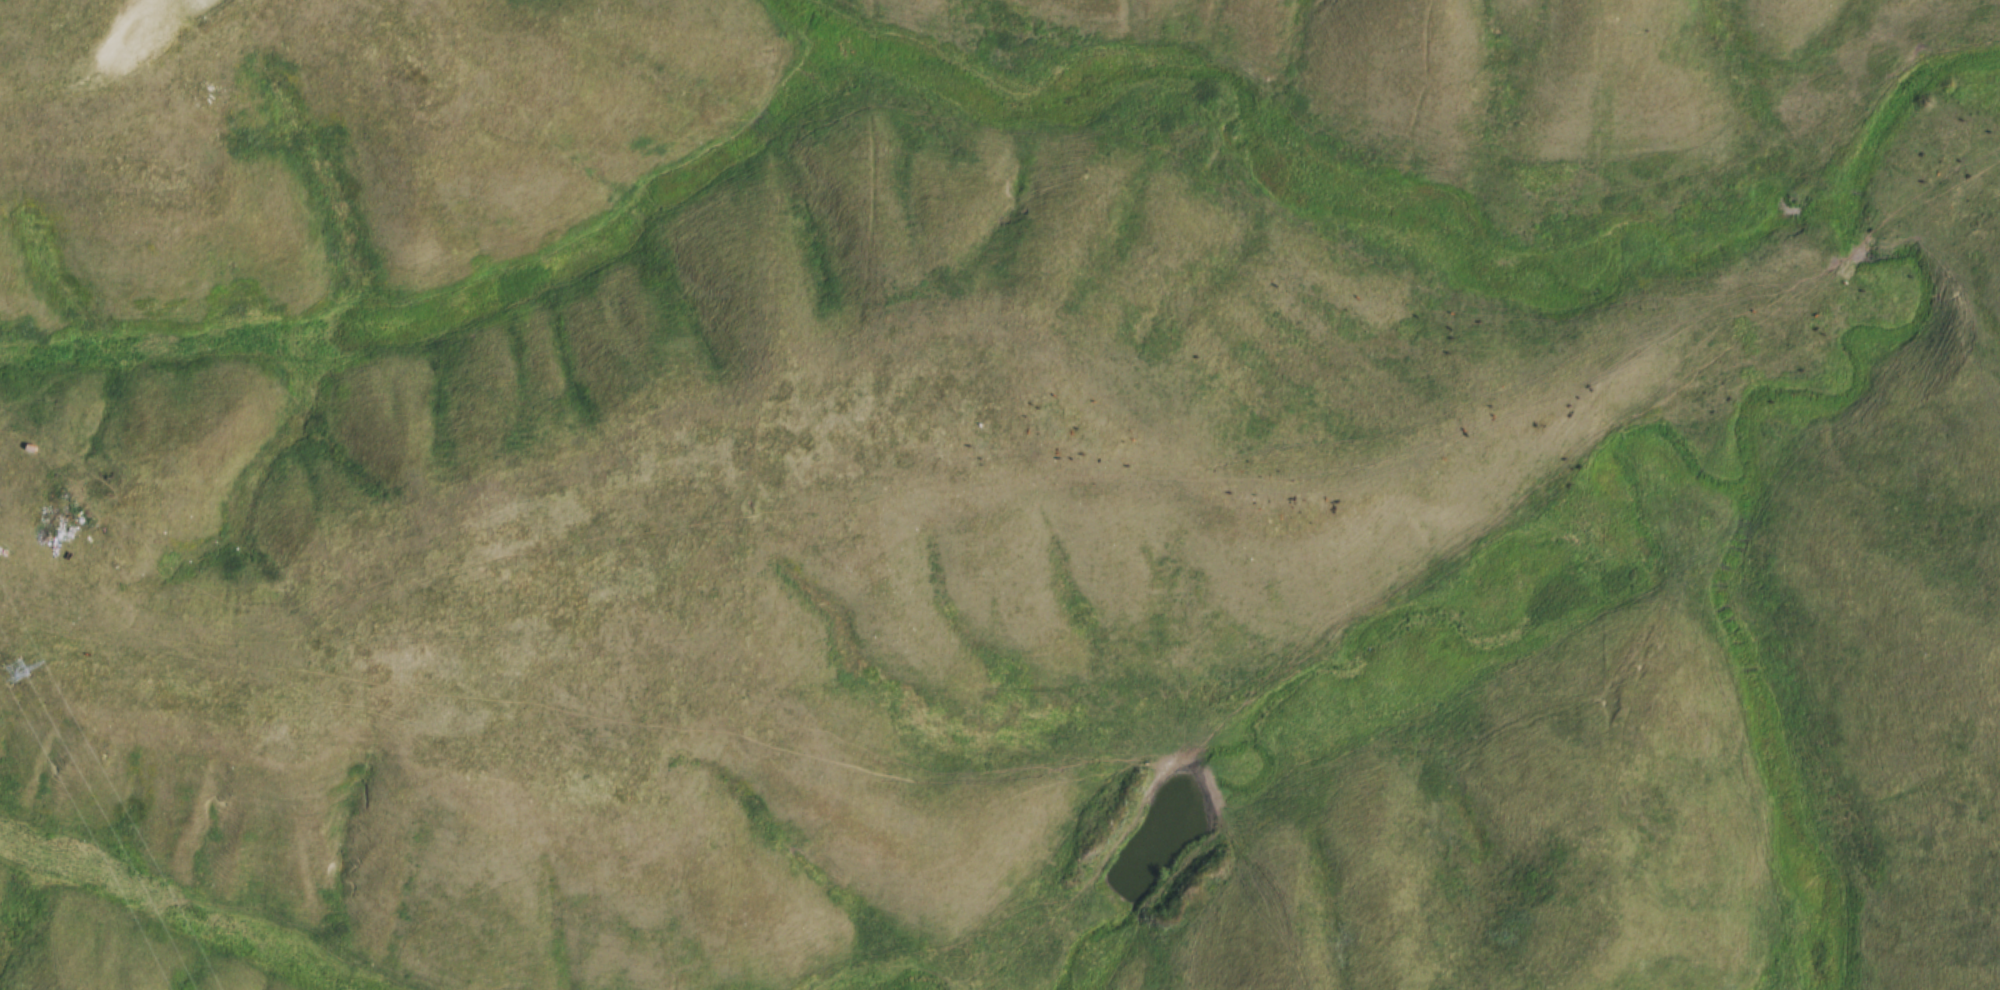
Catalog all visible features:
power tower: (16, 677)
river: (1171, 861)

